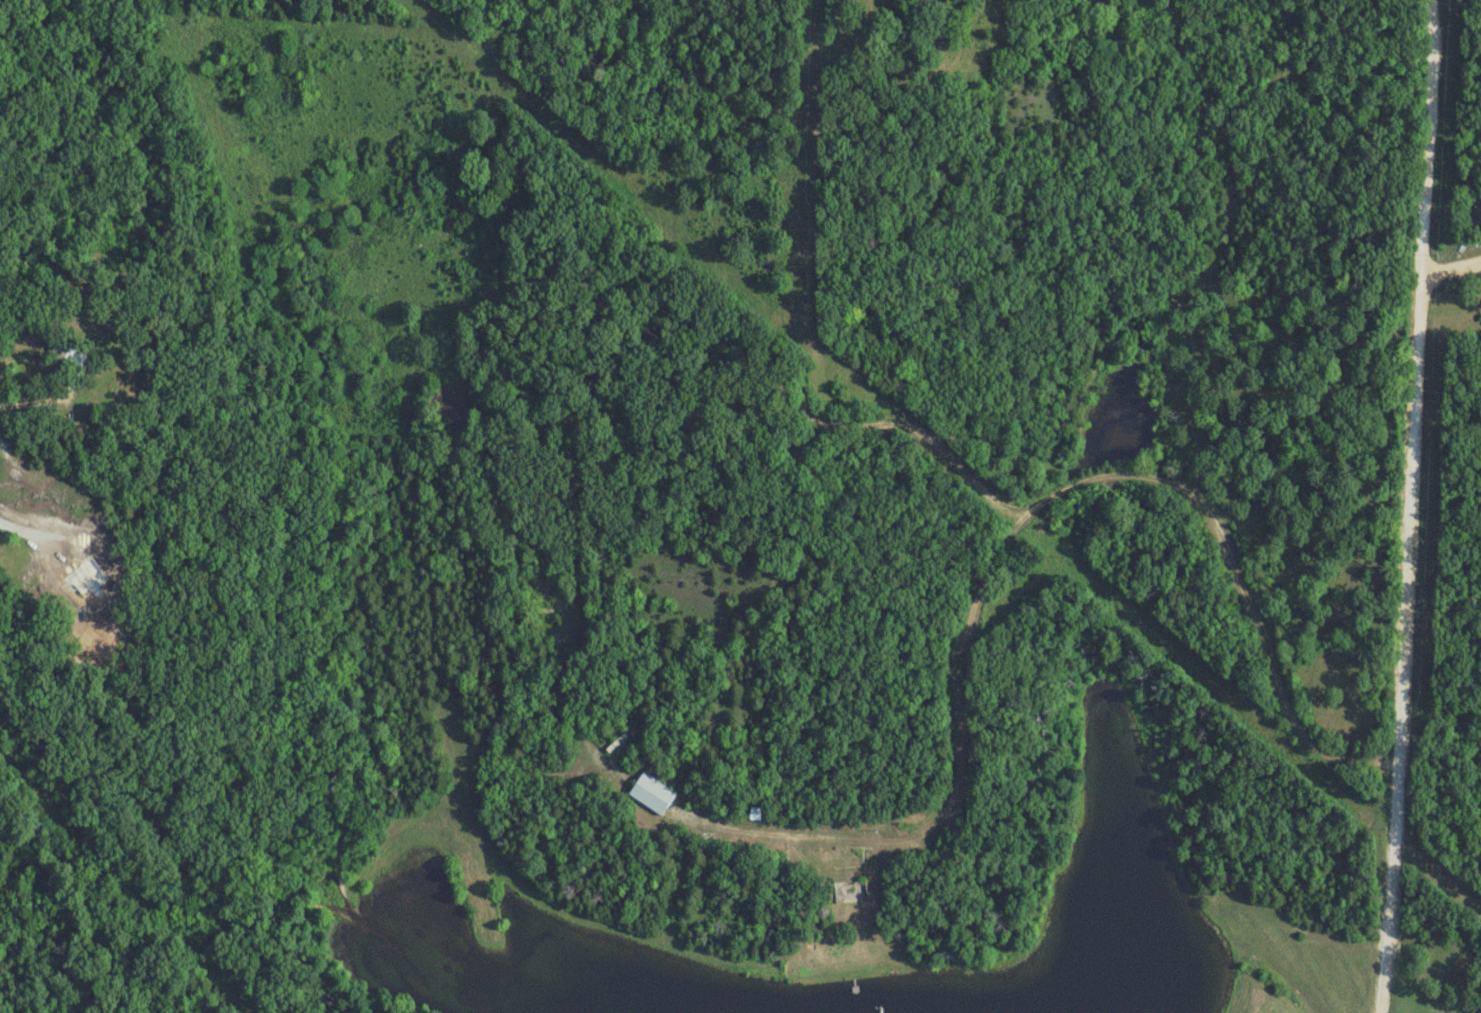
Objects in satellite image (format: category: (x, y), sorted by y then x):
road: (1220, 129)
building: (1477, 213)
road: (1449, 265)
road: (794, 338)
road: (35, 405)
road: (1405, 506)
road: (998, 544)
building: (652, 794)
building: (756, 813)
road: (126, 885)

